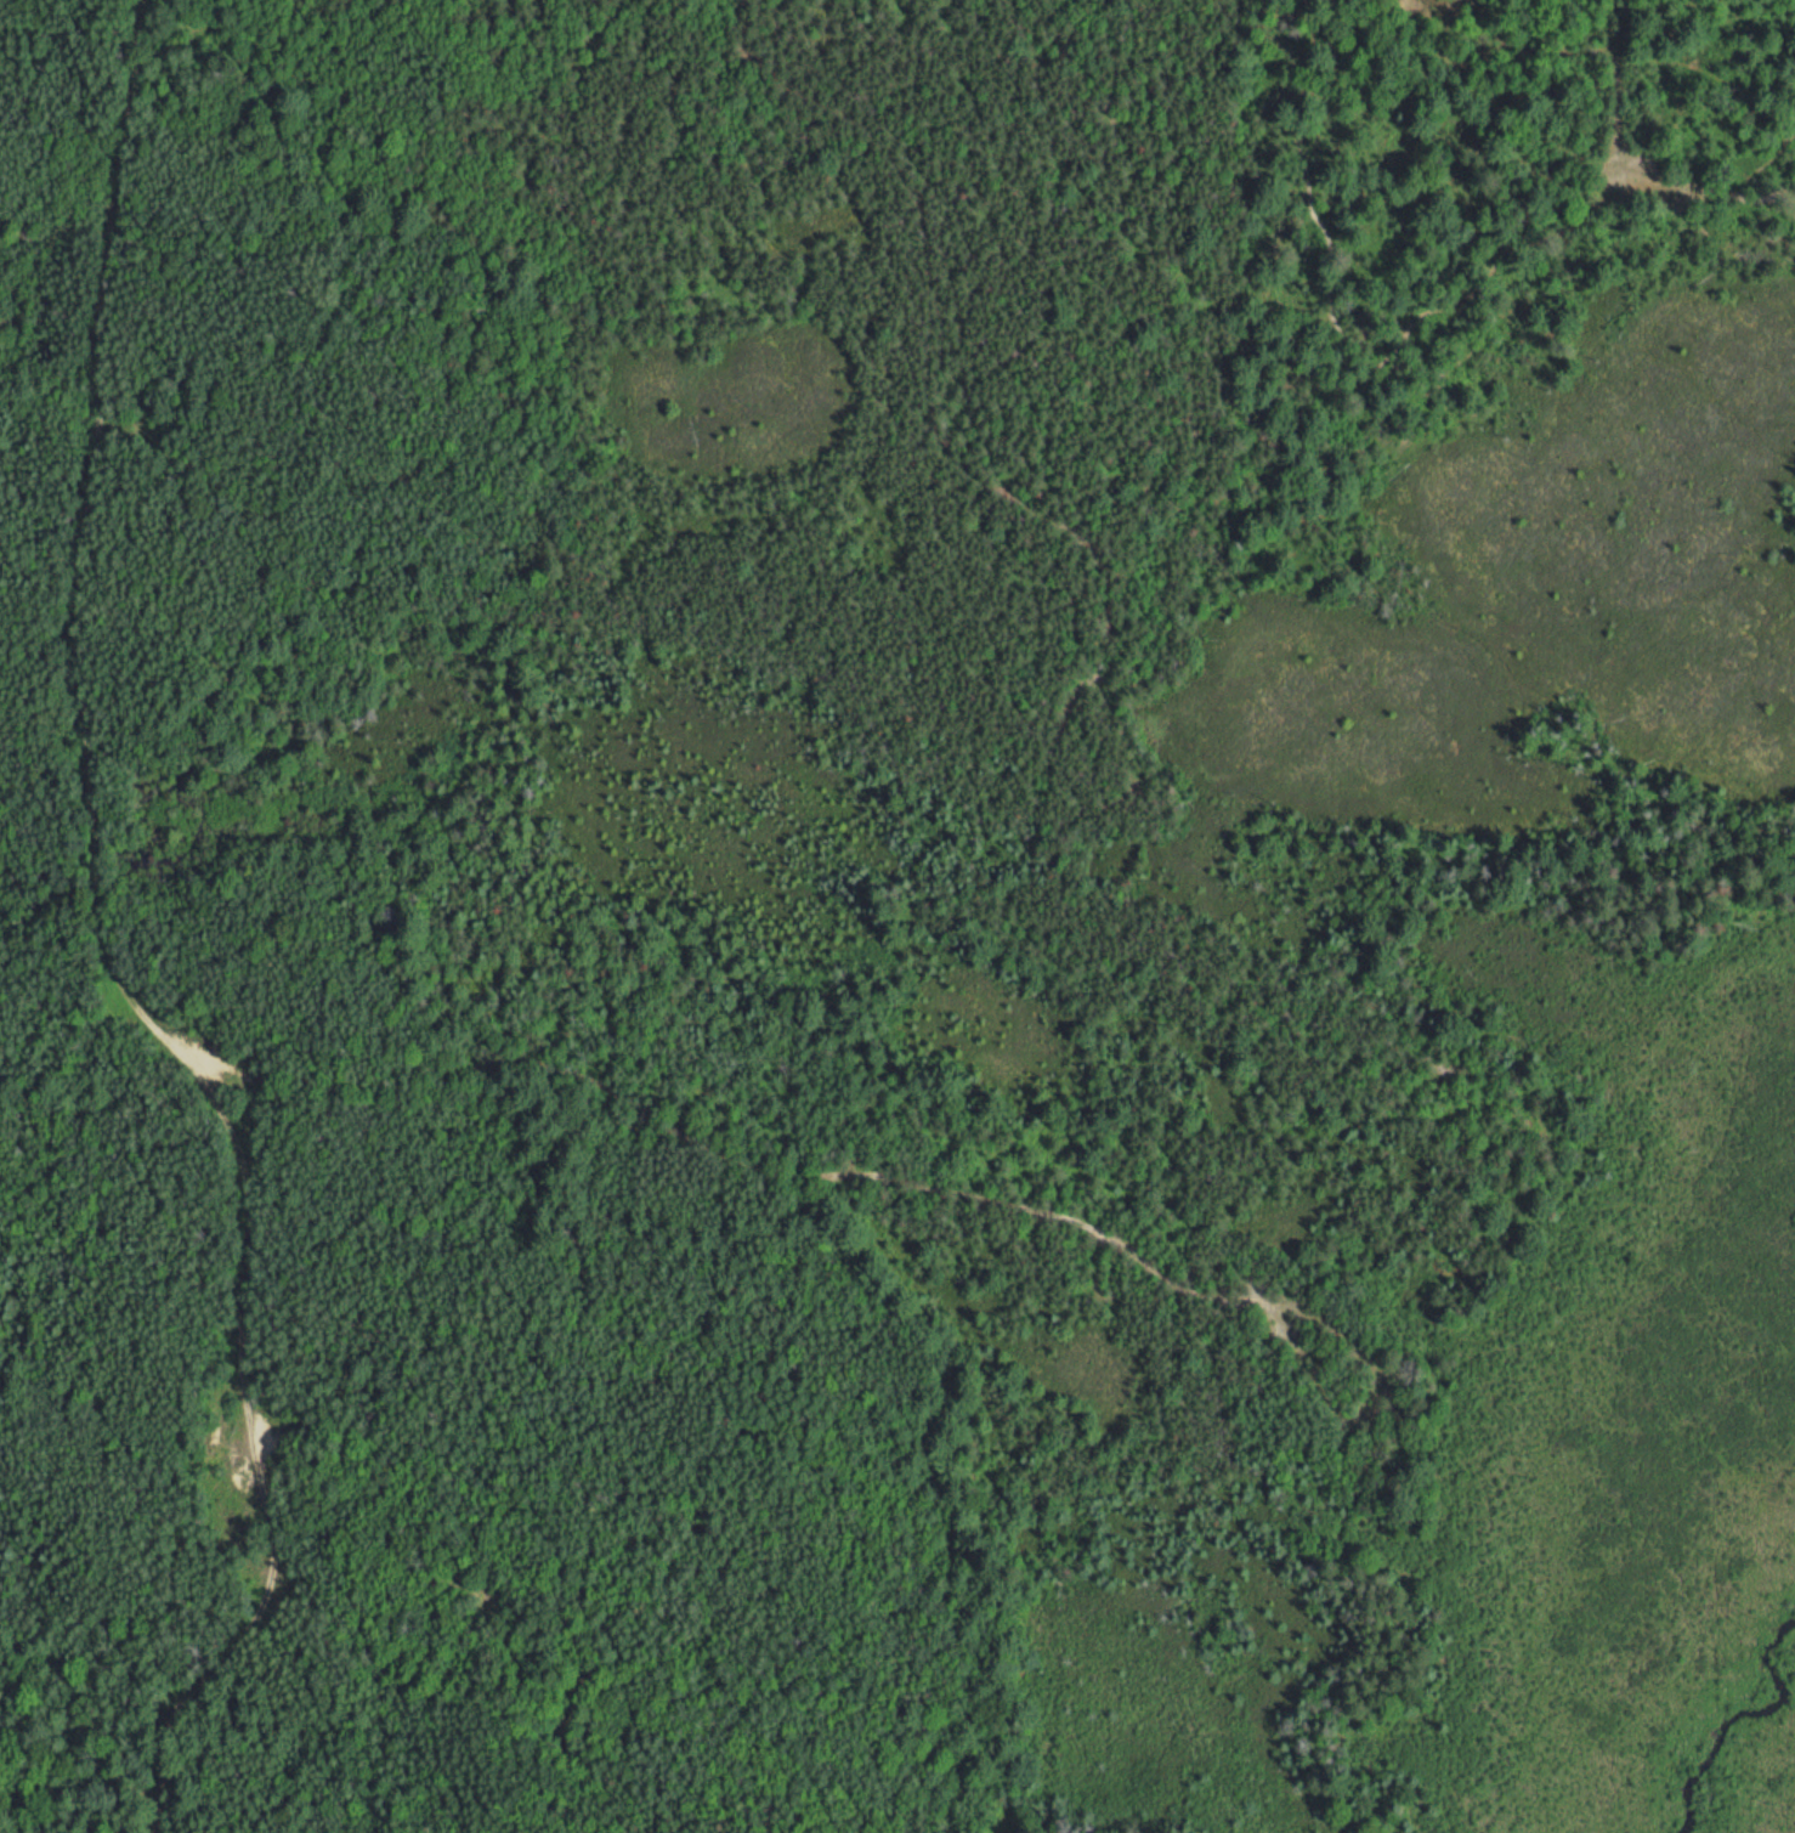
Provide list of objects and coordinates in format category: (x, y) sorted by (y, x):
road: (106, 954)

